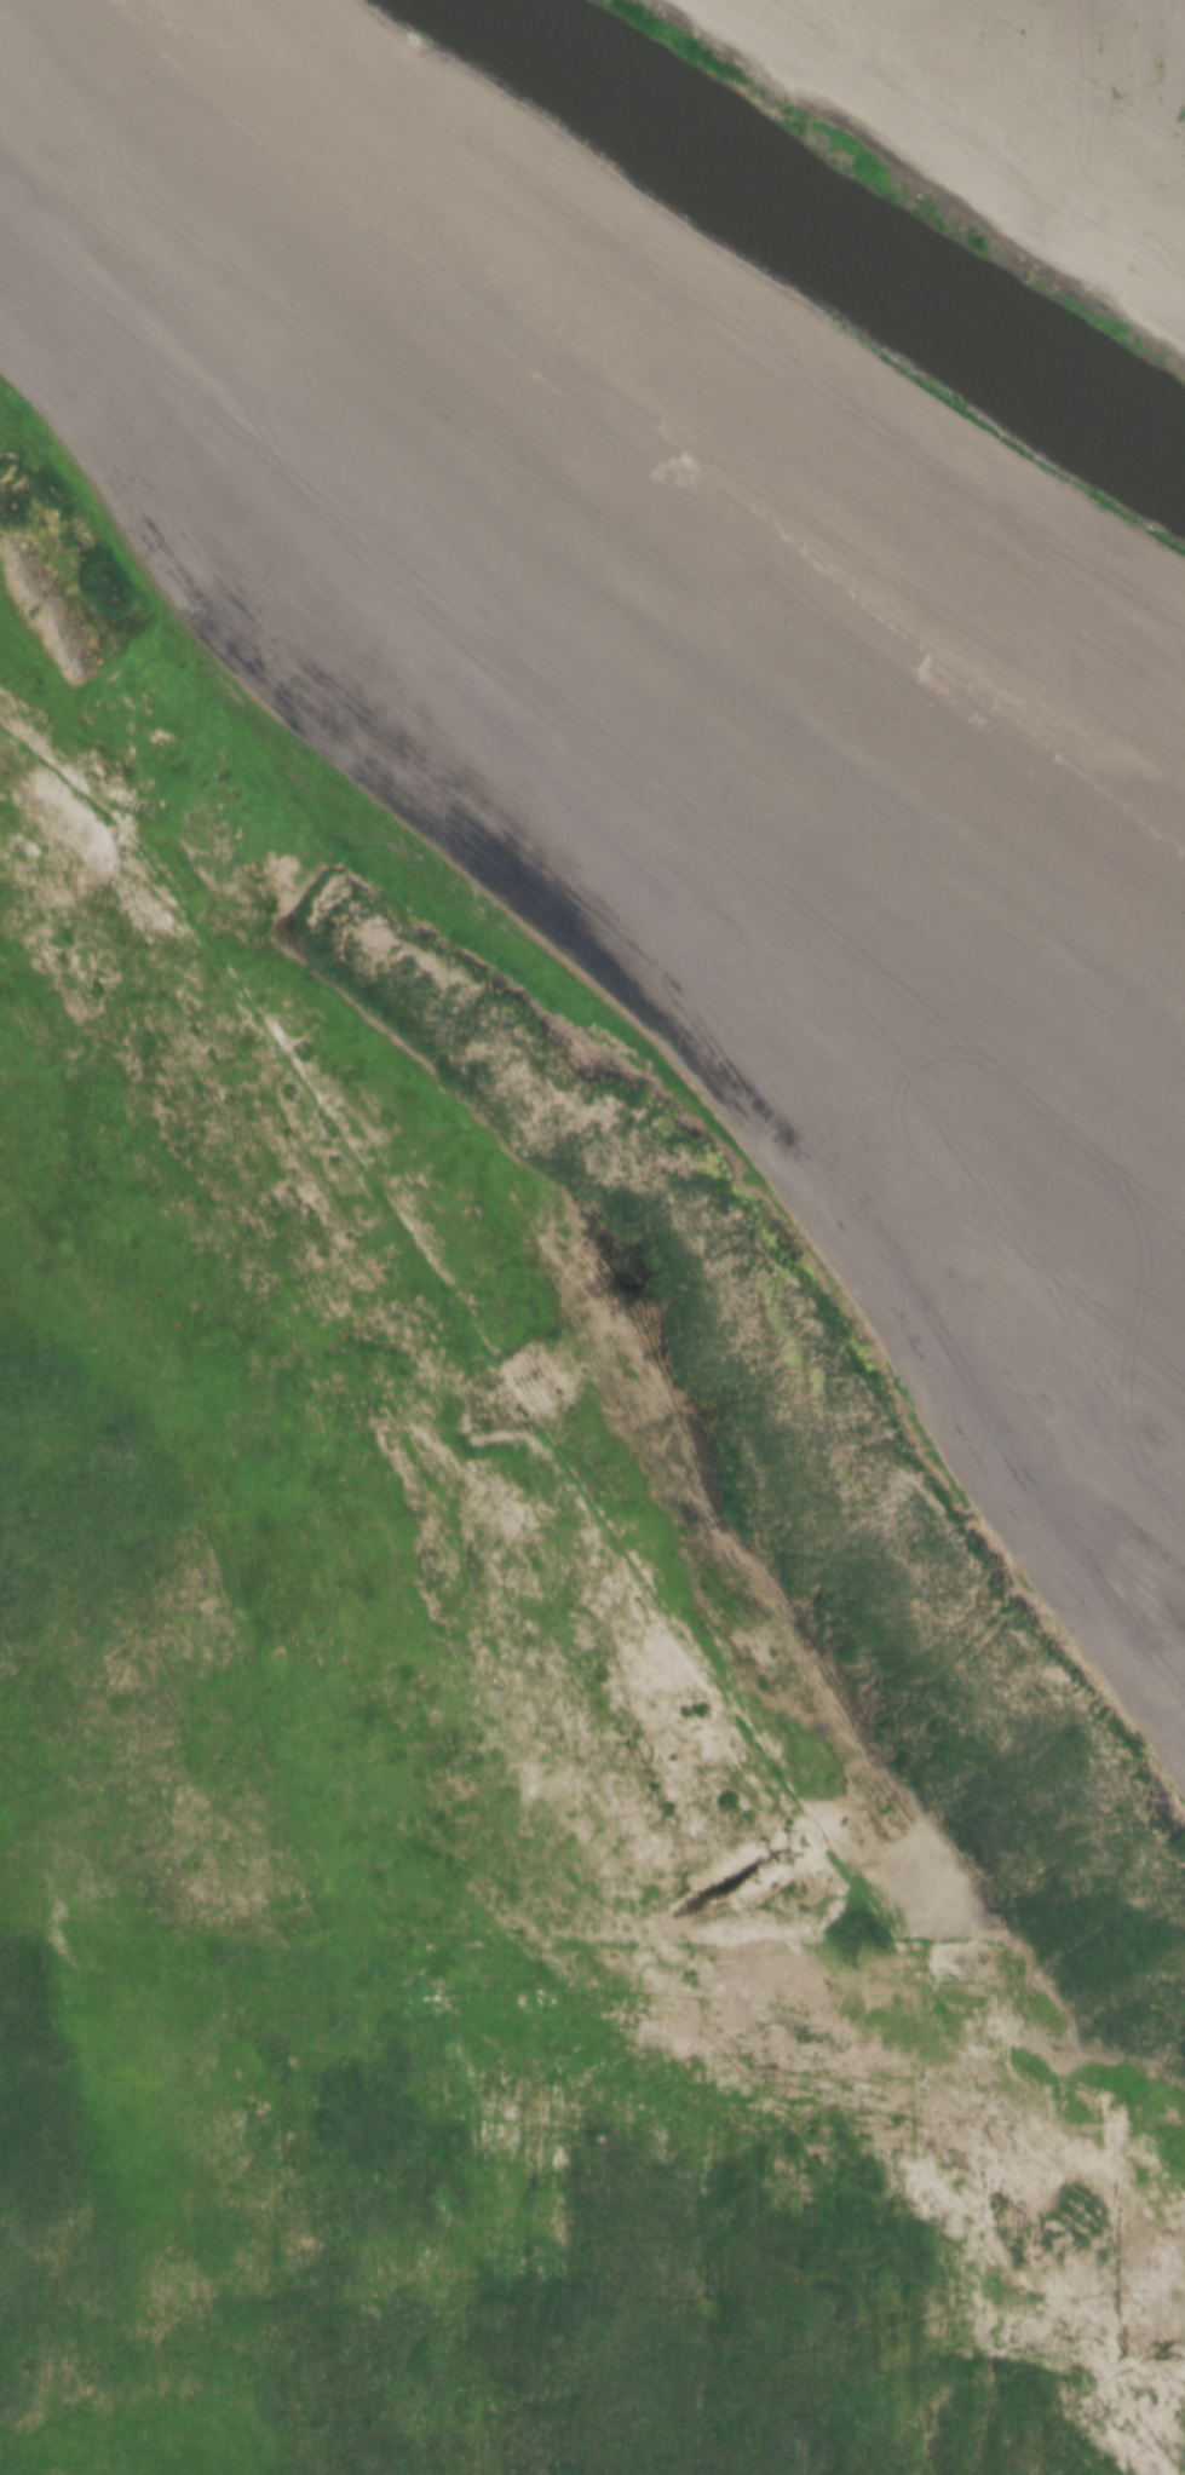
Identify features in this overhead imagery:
river: (832, 238)

